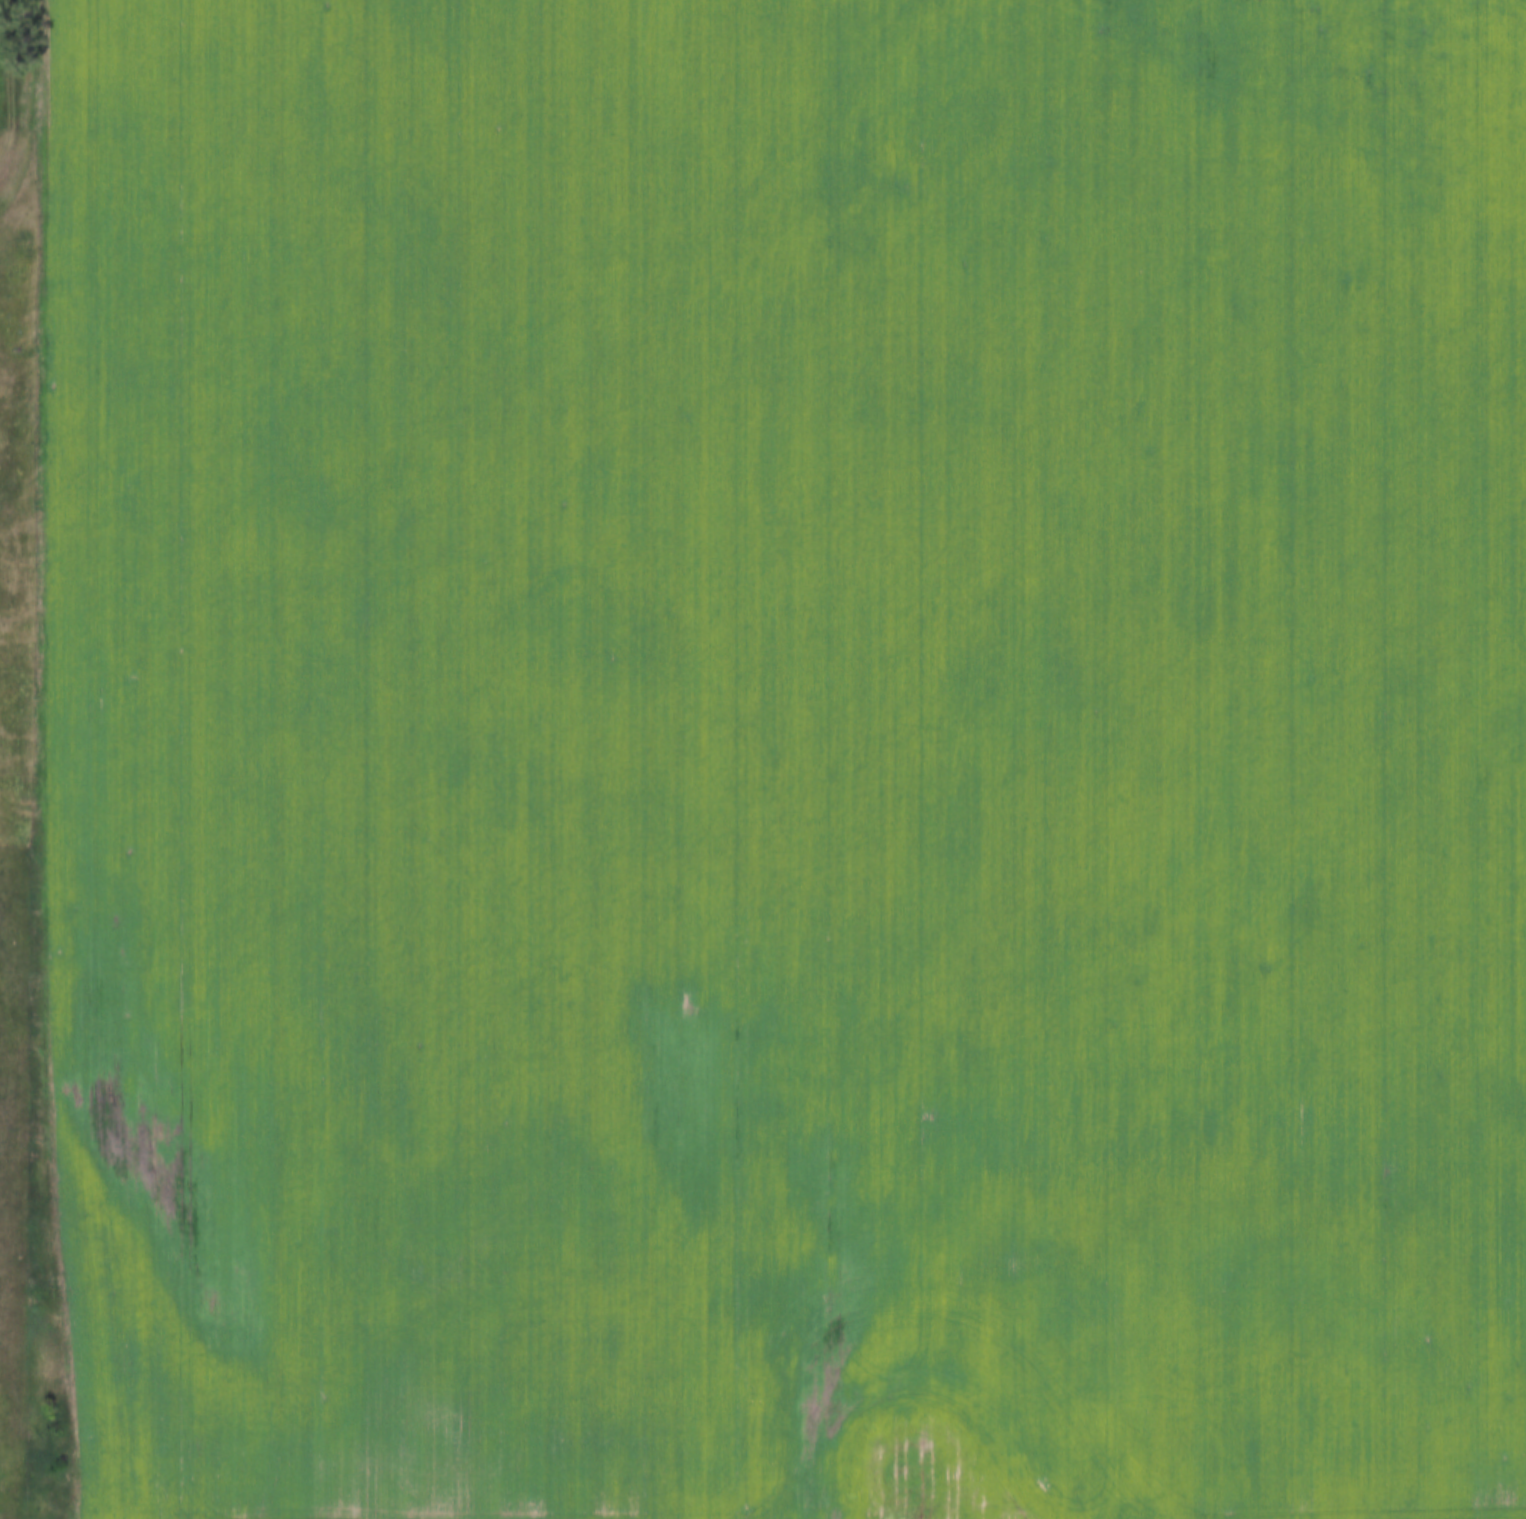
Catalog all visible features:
road: (17, 84)

